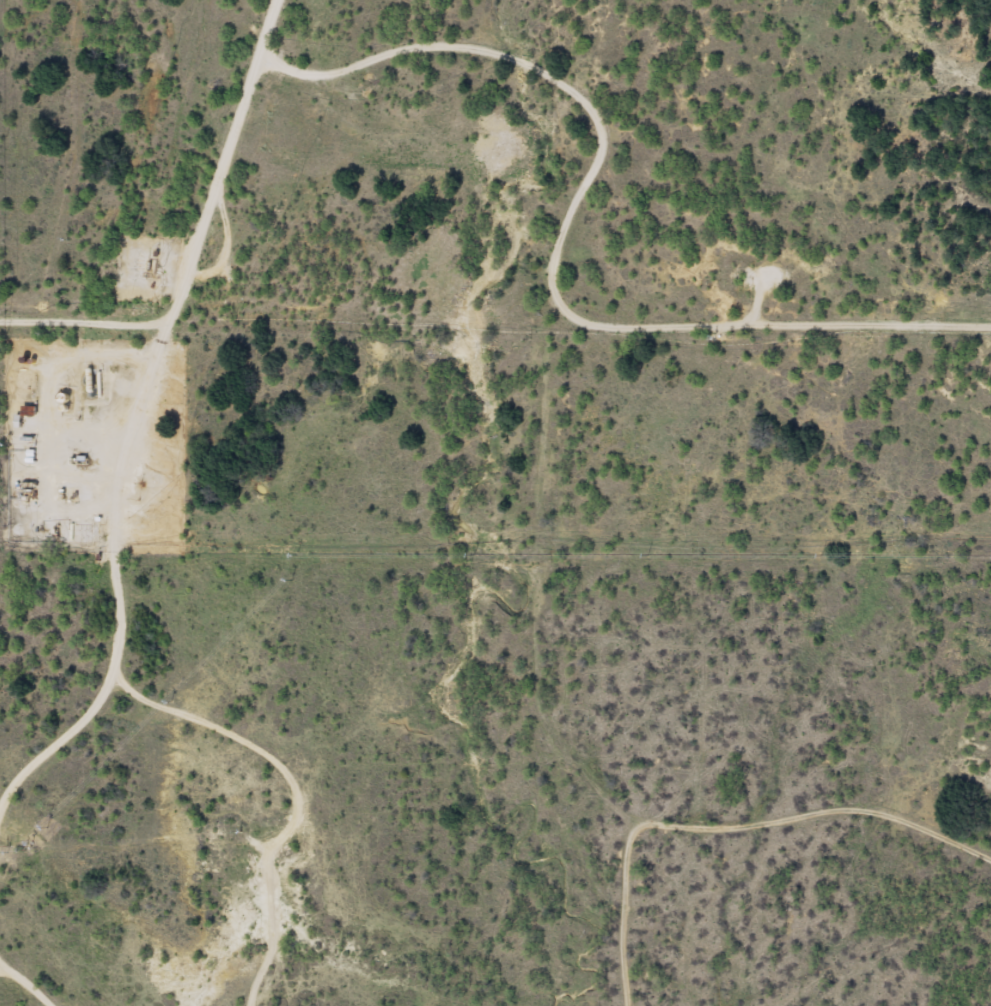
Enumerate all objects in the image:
building: (29, 410)

